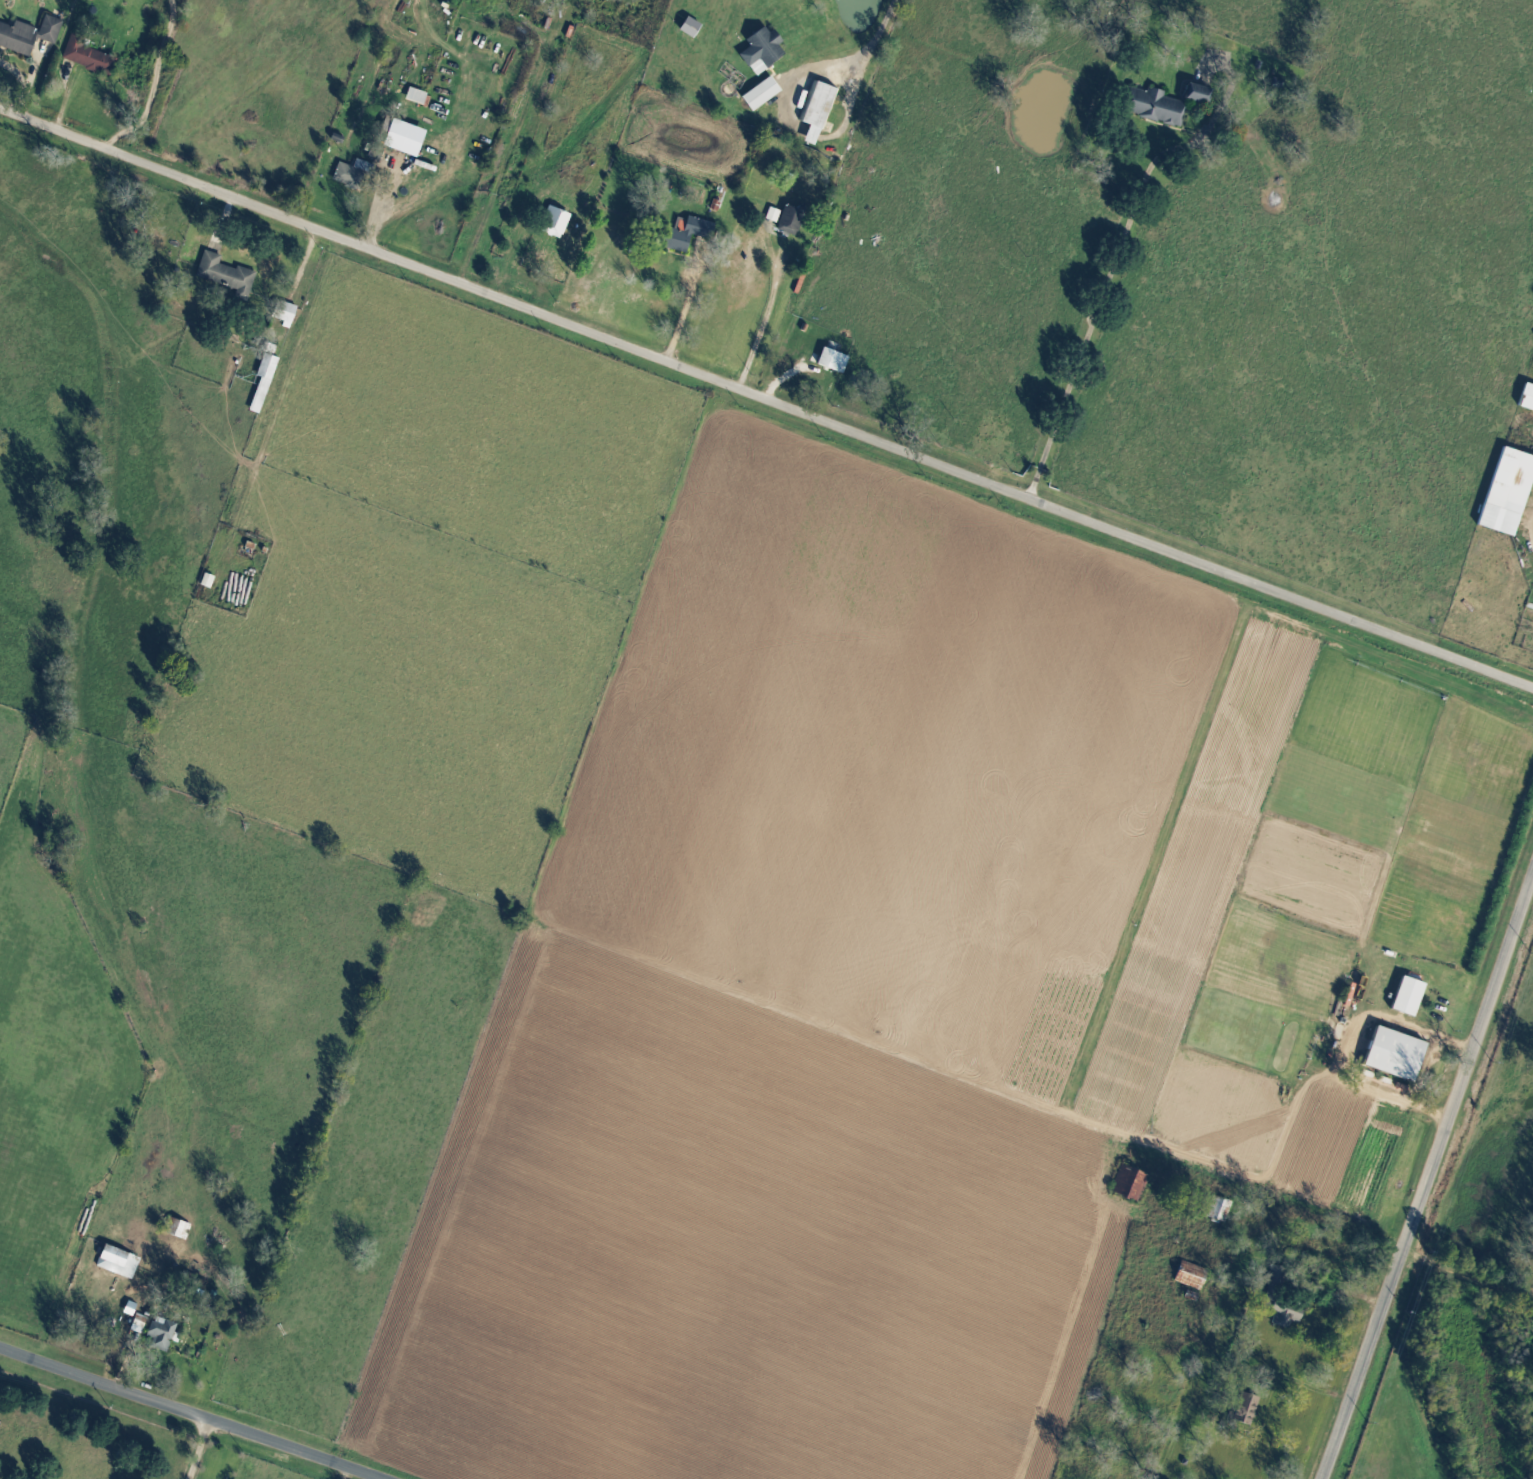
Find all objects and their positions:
building: (30, 35)
road: (874, 36)
building: (766, 51)
building: (91, 58)
road: (16, 73)
road: (31, 83)
road: (153, 83)
building: (765, 94)
building: (1202, 95)
road: (57, 96)
building: (1159, 107)
building: (822, 112)
road: (512, 152)
building: (412, 170)
building: (355, 175)
road: (379, 206)
building: (777, 216)
road: (225, 220)
building: (793, 221)
building: (558, 223)
building: (694, 235)
road: (302, 264)
building: (230, 276)
road: (1106, 304)
road: (764, 315)
road: (686, 318)
building: (836, 360)
building: (267, 383)
road: (766, 399)
building: (1529, 400)
building: (1512, 494)
building: (211, 581)
building: (1413, 996)
building: (1400, 1054)
road: (1428, 1177)
building: (1221, 1210)
building: (184, 1229)
building: (122, 1262)
building: (1195, 1276)
building: (1289, 1318)
building: (165, 1334)
building: (1250, 1408)
road: (192, 1412)
road: (197, 1448)

